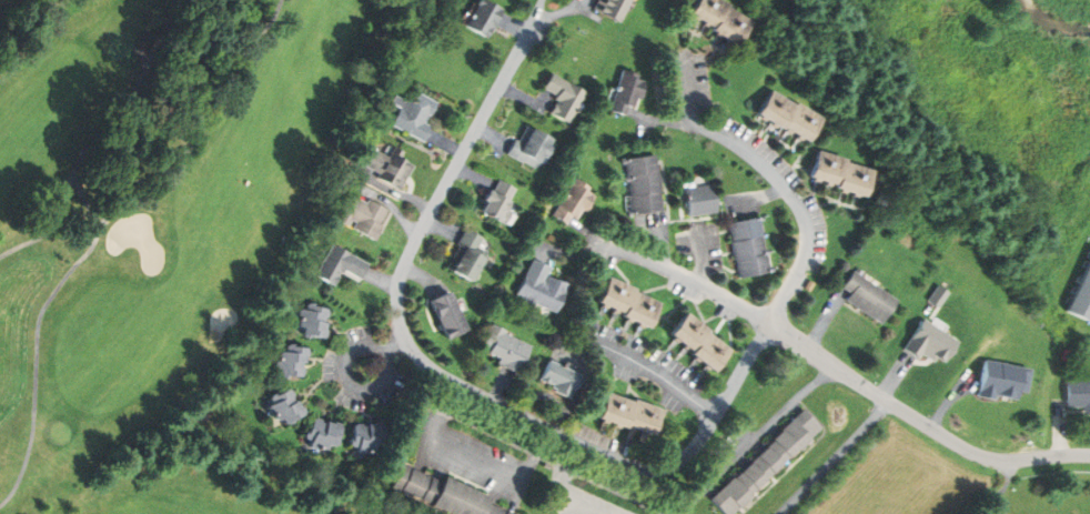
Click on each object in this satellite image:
building: (616, 8)
road: (538, 13)
building: (490, 17)
building: (728, 18)
building: (630, 92)
building: (565, 97)
building: (413, 114)
building: (795, 115)
road: (97, 140)
building: (531, 147)
building: (387, 168)
building: (846, 173)
building: (643, 184)
building: (700, 200)
building: (497, 203)
building: (572, 203)
building: (362, 216)
road: (98, 234)
park: (168, 234)
building: (748, 248)
building: (466, 255)
road: (634, 255)
building: (340, 265)
building: (538, 289)
building: (1082, 296)
building: (870, 298)
building: (628, 303)
building: (448, 315)
building: (314, 322)
building: (700, 343)
road: (394, 346)
building: (504, 349)
building: (291, 362)
road: (345, 369)
road: (659, 376)
building: (558, 379)
road: (869, 387)
building: (1078, 394)
building: (285, 407)
building: (630, 414)
building: (325, 435)
building: (369, 439)
road: (604, 452)
road: (832, 457)
building: (764, 464)
road: (1003, 486)
building: (443, 493)
road: (584, 507)

